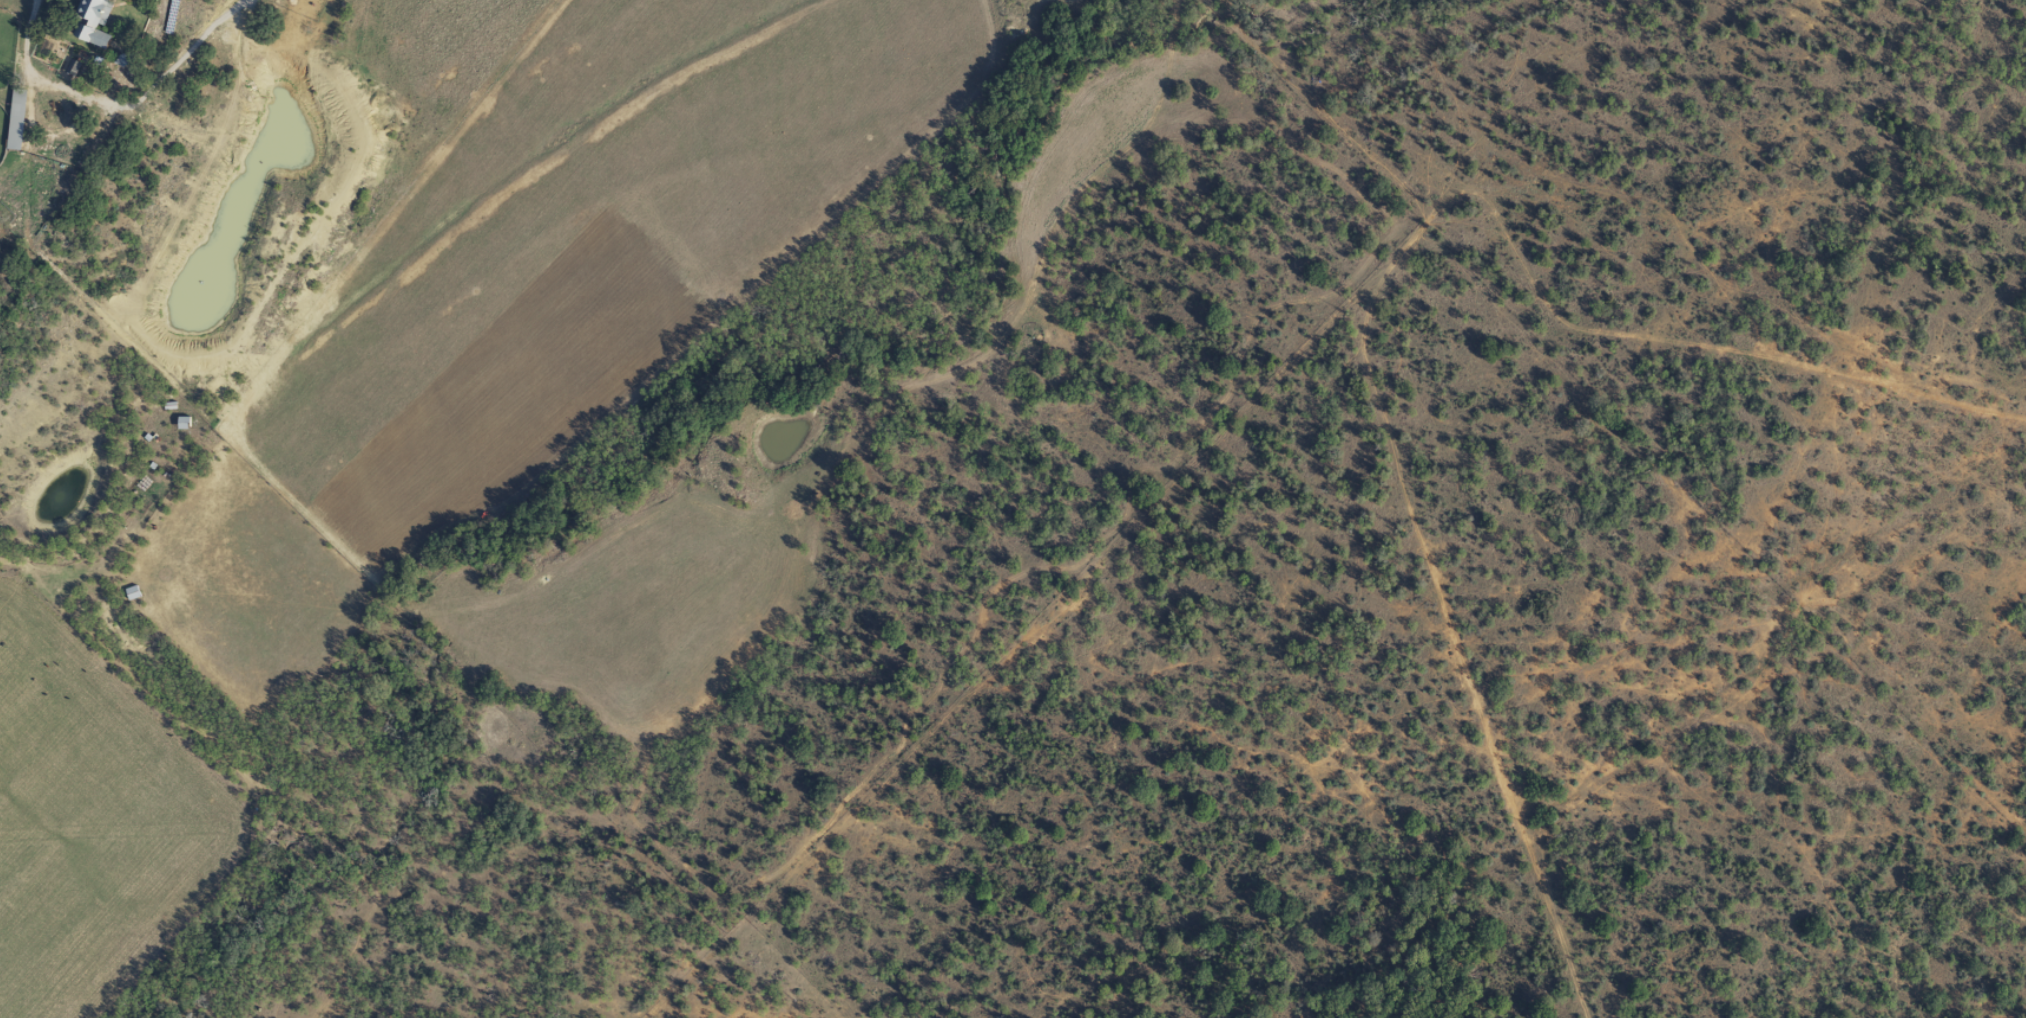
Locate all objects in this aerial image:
building: (88, 22)
building: (12, 119)
road: (109, 162)
building: (129, 592)

